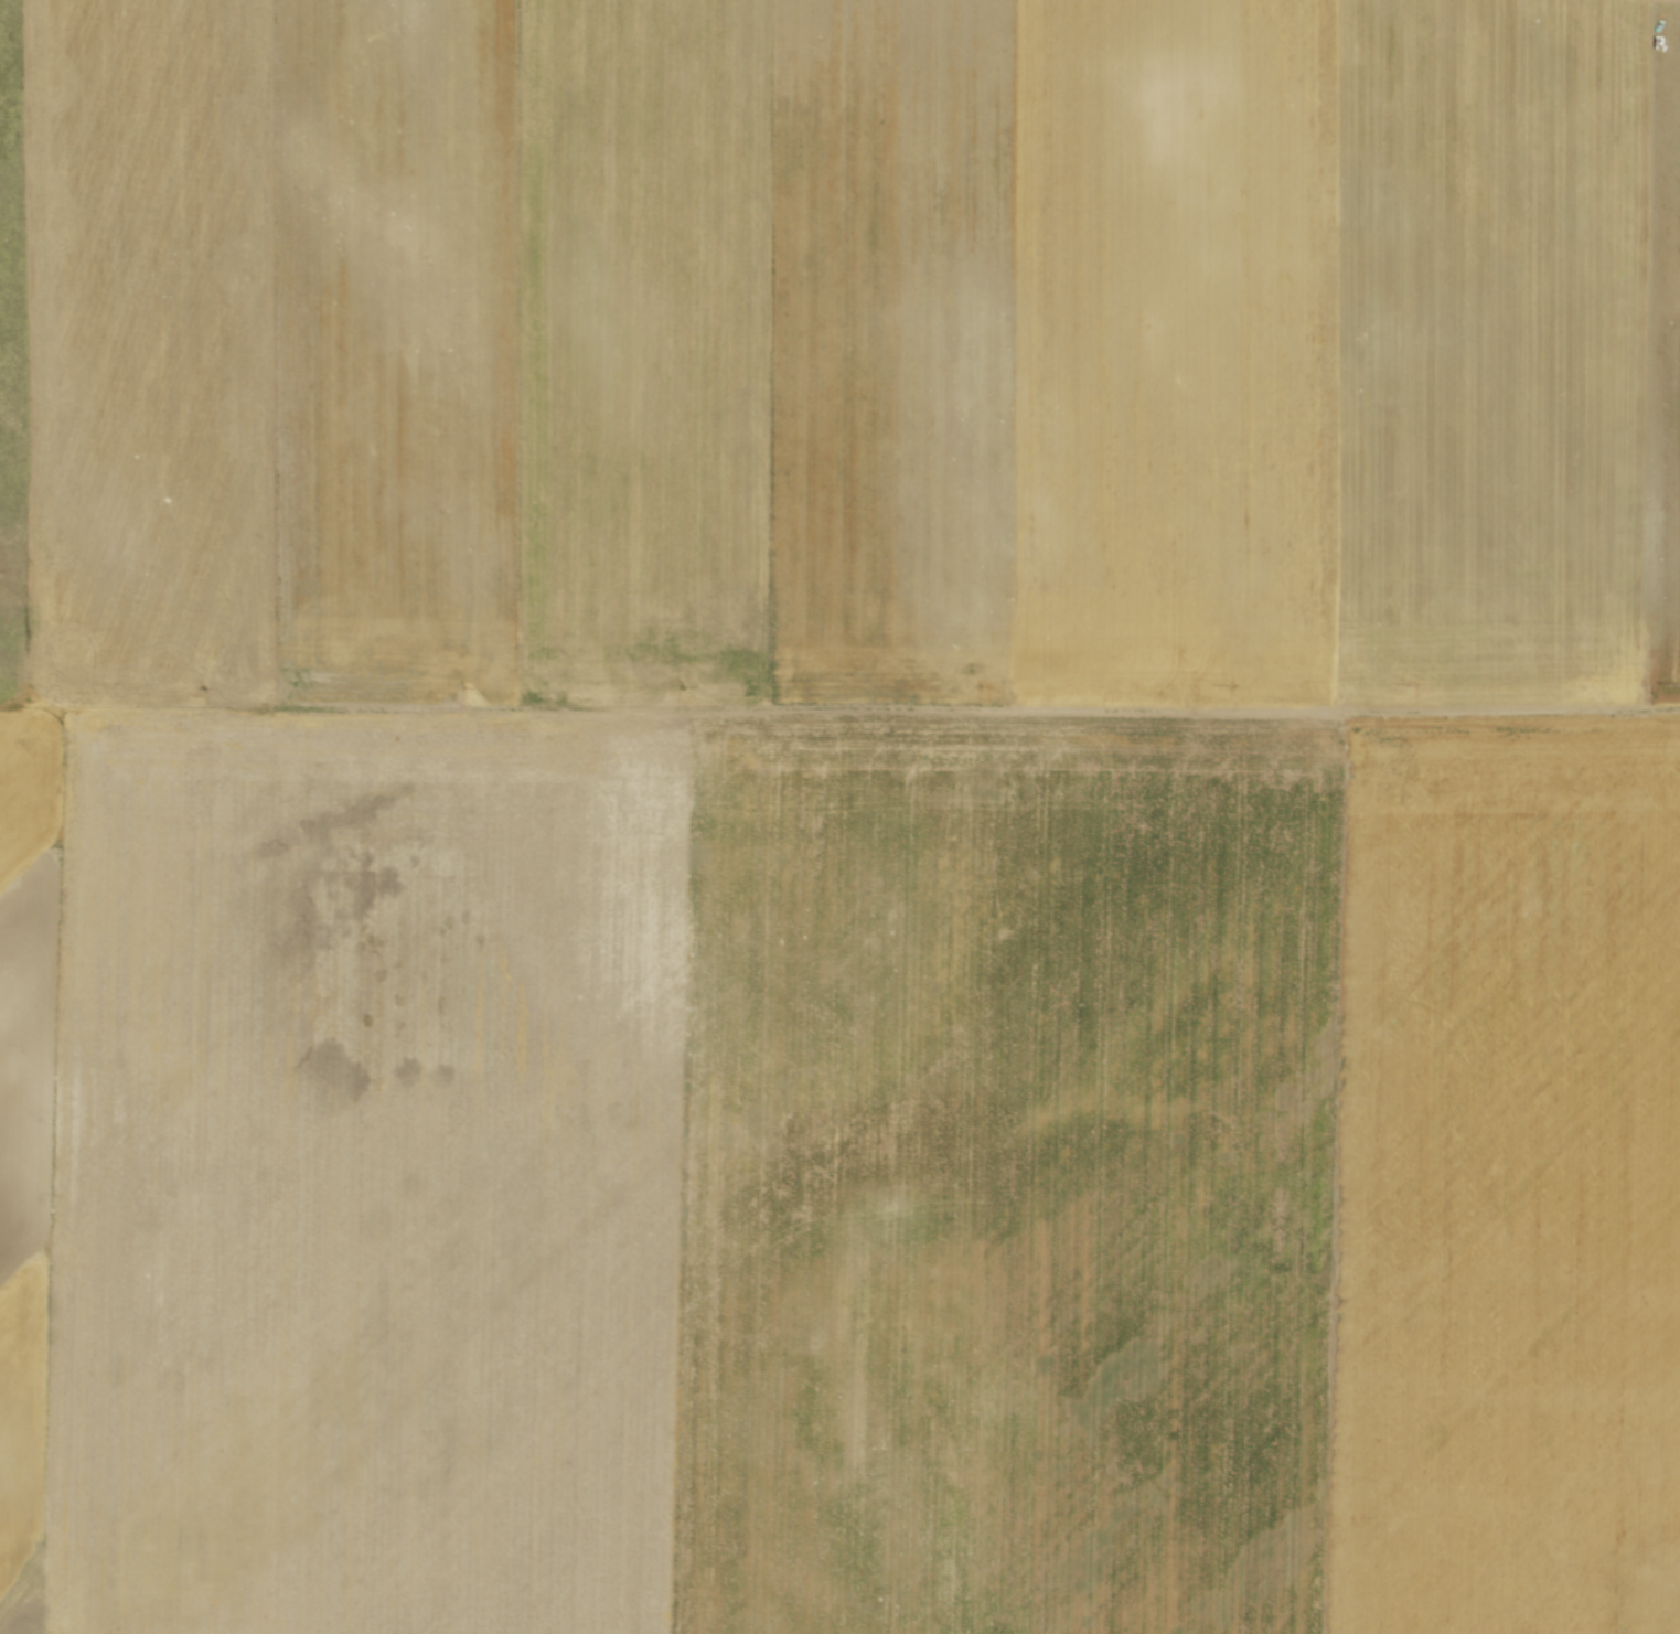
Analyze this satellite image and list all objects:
crop: (844, 819)

